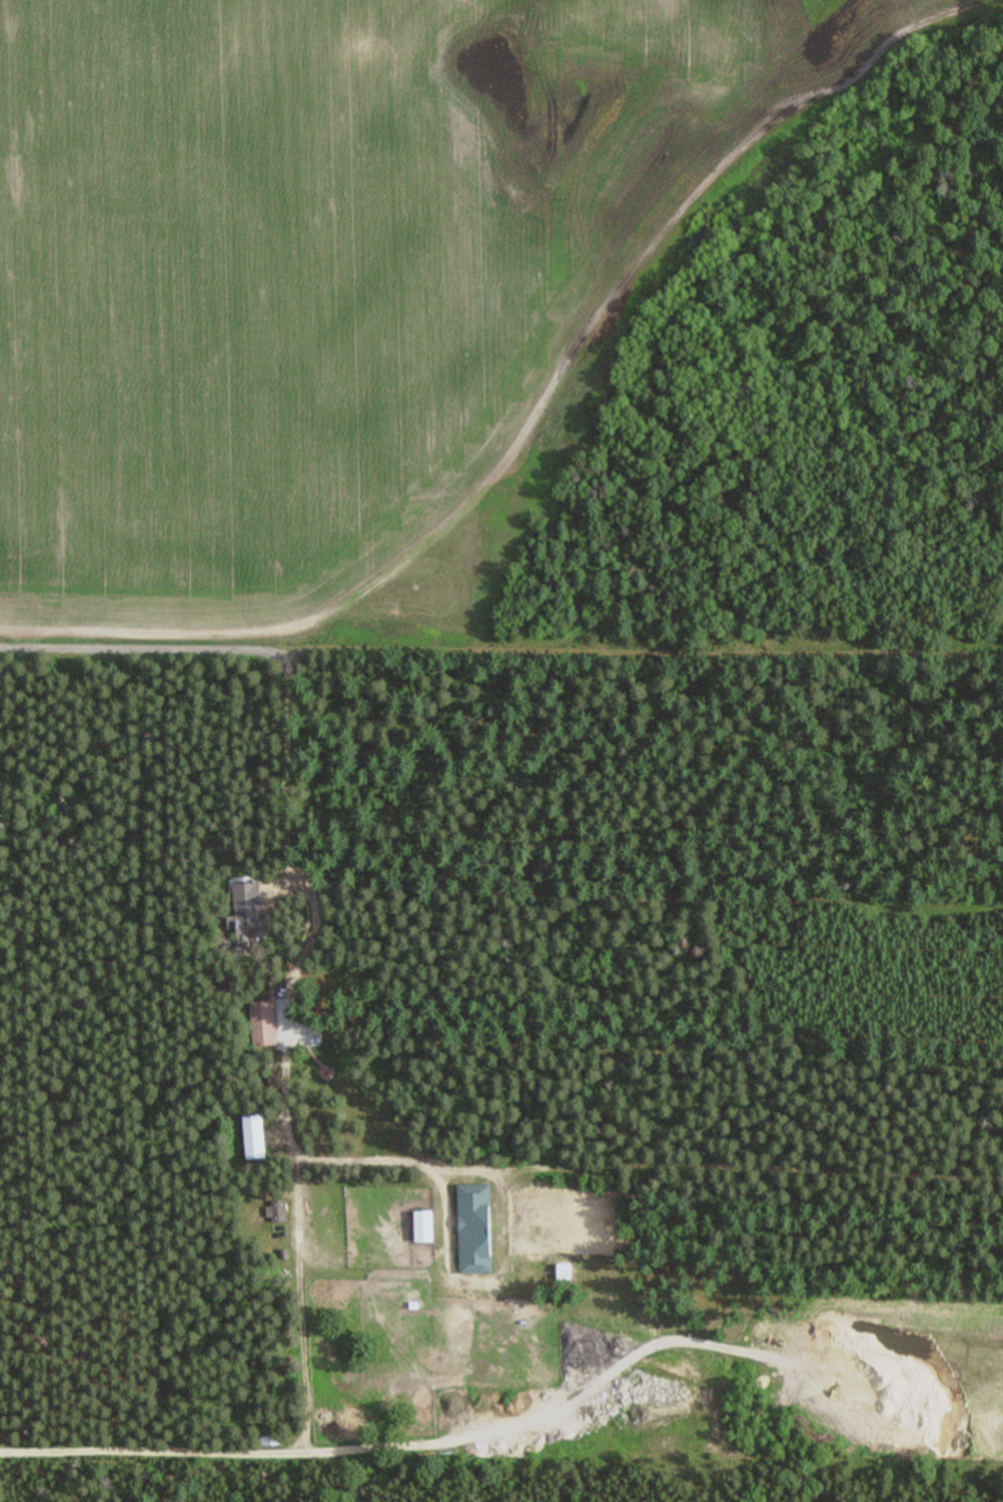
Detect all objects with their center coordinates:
building: (264, 1025)
building: (255, 1138)
building: (279, 1213)
building: (424, 1228)
building: (475, 1231)
building: (565, 1274)
building: (271, 1442)

